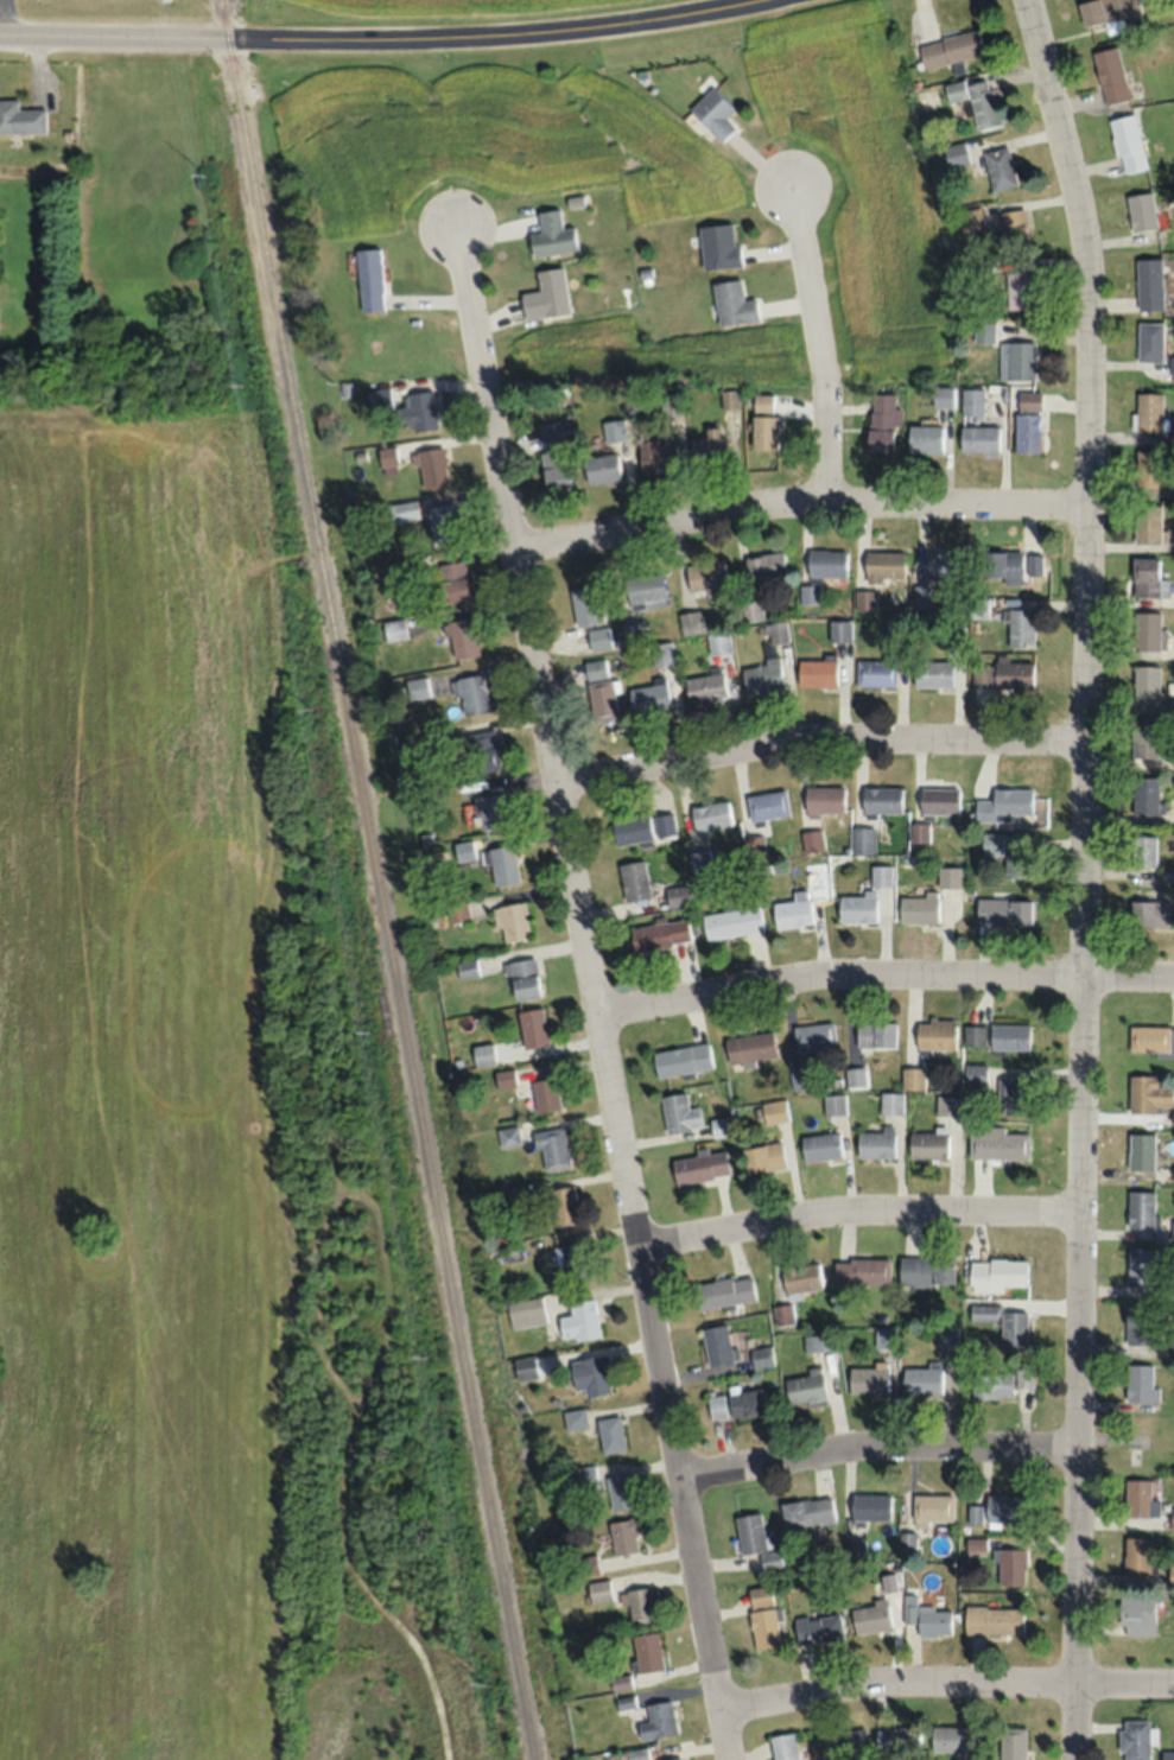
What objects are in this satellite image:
building: (1108, 11)
road: (4, 15)
railway: (224, 17)
road: (376, 37)
building: (950, 47)
building: (1110, 75)
building: (977, 100)
building: (712, 113)
building: (20, 117)
building: (1127, 142)
building: (956, 153)
building: (1000, 167)
power tower: (204, 177)
building: (1141, 211)
building: (1014, 231)
building: (551, 235)
building: (717, 244)
building: (369, 279)
building: (1148, 282)
building: (1018, 290)
building: (546, 294)
building: (732, 303)
road: (817, 341)
building: (1149, 342)
building: (1017, 360)
building: (1170, 364)
road: (4, 371)
building: (943, 395)
building: (379, 399)
building: (1028, 399)
building: (971, 400)
building: (421, 409)
building: (1148, 411)
building: (881, 420)
building: (762, 421)
building: (613, 430)
building: (1026, 431)
building: (550, 433)
building: (925, 437)
building: (978, 437)
building: (709, 447)
building: (656, 455)
building: (432, 468)
building: (601, 468)
building: (1148, 468)
building: (554, 469)
road: (797, 498)
building: (402, 510)
building: (442, 523)
building: (1148, 523)
building: (827, 564)
building: (1033, 564)
building: (883, 565)
building: (941, 565)
building: (764, 566)
building: (1002, 566)
building: (705, 574)
building: (1144, 577)
building: (452, 580)
building: (645, 592)
building: (810, 593)
building: (864, 599)
building: (585, 604)
building: (978, 606)
building: (751, 610)
building: (688, 621)
building: (1020, 628)
building: (394, 629)
building: (838, 629)
building: (895, 629)
building: (776, 631)
building: (1148, 631)
building: (634, 633)
building: (462, 637)
building: (599, 638)
building: (718, 643)
building: (661, 653)
building: (817, 672)
building: (875, 672)
building: (932, 673)
building: (1002, 673)
building: (761, 675)
building: (1147, 684)
building: (417, 687)
building: (705, 687)
building: (599, 688)
building: (471, 693)
building: (648, 695)
building: (1143, 737)
road: (817, 743)
building: (483, 750)
building: (1144, 796)
building: (824, 799)
building: (882, 799)
building: (939, 800)
building: (767, 803)
building: (1005, 803)
building: (493, 809)
building: (711, 815)
building: (643, 827)
building: (919, 832)
building: (812, 839)
building: (862, 839)
building: (991, 843)
building: (1142, 850)
building: (699, 859)
building: (1018, 862)
building: (500, 863)
building: (1167, 873)
building: (881, 875)
building: (948, 876)
road: (1080, 876)
building: (634, 879)
building: (679, 895)
railway: (380, 897)
building: (795, 908)
building: (857, 908)
building: (918, 909)
building: (1007, 910)
building: (457, 911)
building: (1148, 913)
building: (512, 921)
building: (731, 921)
building: (658, 933)
building: (467, 968)
road: (881, 973)
building: (523, 978)
road: (589, 993)
building: (532, 1027)
building: (875, 1034)
building: (935, 1034)
building: (973, 1035)
building: (1009, 1036)
building: (814, 1038)
building: (1150, 1040)
building: (749, 1047)
building: (681, 1060)
building: (975, 1073)
building: (913, 1078)
building: (544, 1094)
building: (1147, 1094)
building: (1015, 1095)
building: (890, 1103)
building: (833, 1104)
building: (947, 1104)
building: (774, 1111)
building: (679, 1113)
building: (719, 1126)
building: (876, 1143)
building: (997, 1143)
building: (927, 1144)
building: (820, 1146)
building: (552, 1149)
building: (1141, 1151)
building: (764, 1157)
building: (700, 1167)
building: (1173, 1170)
building: (563, 1206)
road: (857, 1207)
building: (1141, 1208)
building: (1172, 1230)
building: (503, 1252)
building: (575, 1263)
building: (1140, 1266)
building: (926, 1270)
building: (862, 1271)
building: (997, 1272)
building: (801, 1277)
building: (724, 1290)
building: (526, 1311)
building: (579, 1320)
building: (1140, 1323)
building: (1003, 1324)
building: (946, 1336)
building: (886, 1338)
building: (818, 1342)
building: (718, 1345)
building: (760, 1356)
building: (525, 1367)
building: (591, 1374)
building: (1023, 1375)
building: (868, 1379)
building: (921, 1379)
building: (1138, 1383)
building: (991, 1385)
building: (806, 1389)
building: (745, 1403)
building: (716, 1406)
building: (575, 1418)
building: (610, 1434)
road: (877, 1443)
building: (586, 1475)
building: (620, 1492)
building: (1141, 1497)
building: (871, 1506)
building: (932, 1507)
building: (1004, 1508)
building: (807, 1512)
building: (624, 1536)
building: (756, 1542)
building: (1136, 1556)
building: (588, 1564)
building: (1011, 1567)
building: (1170, 1572)
building: (599, 1590)
building: (761, 1596)
building: (641, 1605)
building: (1136, 1615)
building: (870, 1616)
building: (927, 1618)
building: (992, 1620)
building: (764, 1628)
building: (818, 1628)
building: (647, 1651)
road: (946, 1678)
building: (658, 1721)
building: (948, 1737)
building: (901, 1739)
building: (1135, 1739)
building: (851, 1741)
building: (1013, 1742)
building: (783, 1746)
building: (637, 1754)
building: (1167, 1754)
building: (675, 1759)

